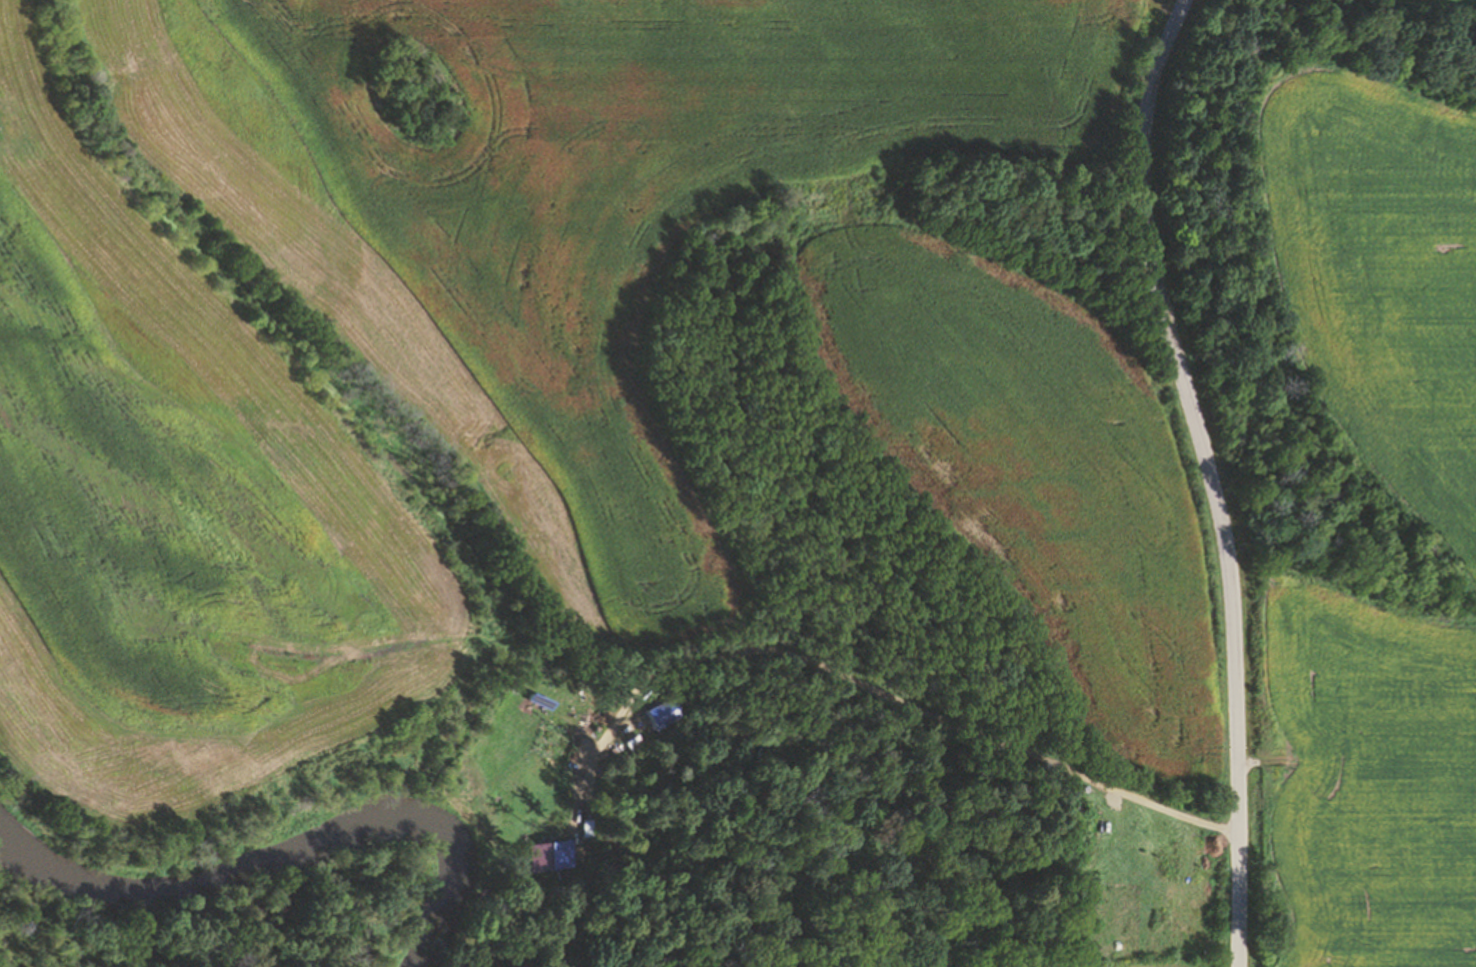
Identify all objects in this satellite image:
road: (1201, 478)
building: (655, 715)
road: (948, 737)
building: (640, 743)
building: (553, 856)
river: (260, 867)
park: (215, 927)

